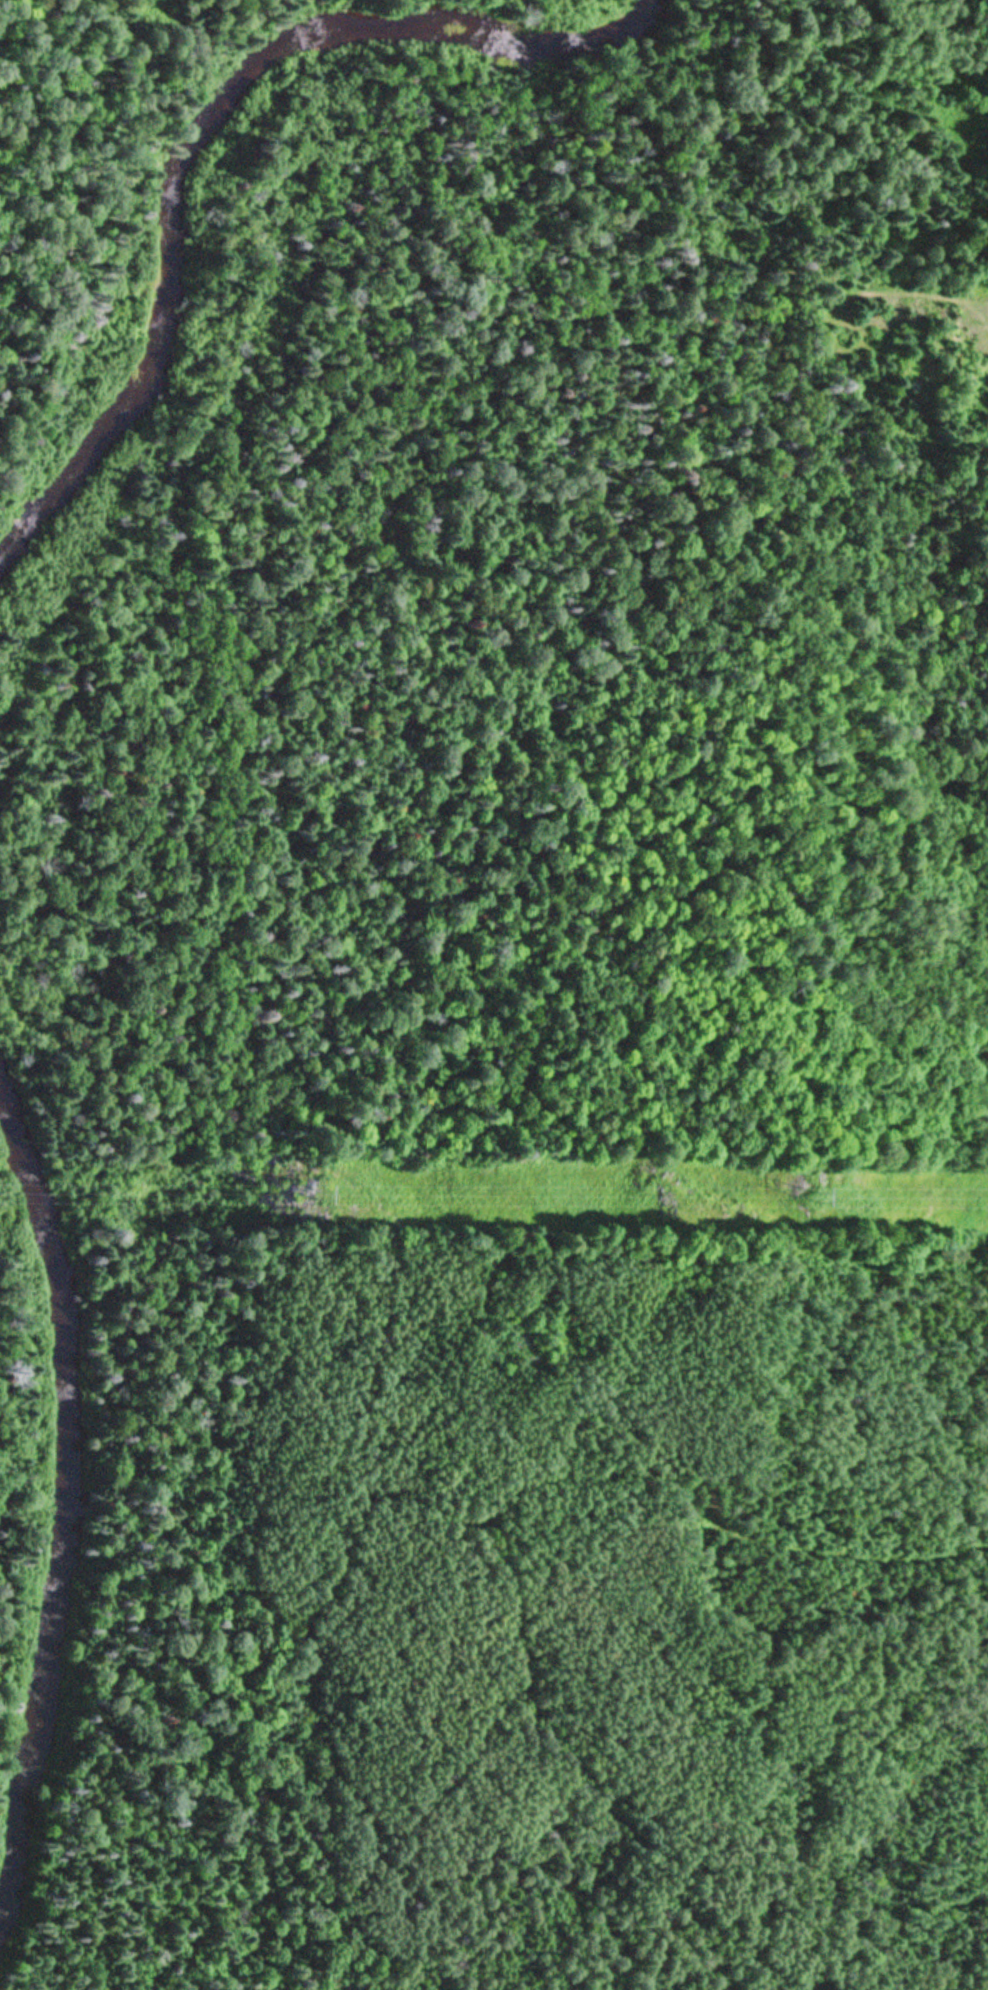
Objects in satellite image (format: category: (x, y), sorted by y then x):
river: (564, 35)
river: (151, 193)
power tower: (305, 1196)
power tower: (815, 1199)
river: (38, 1511)

